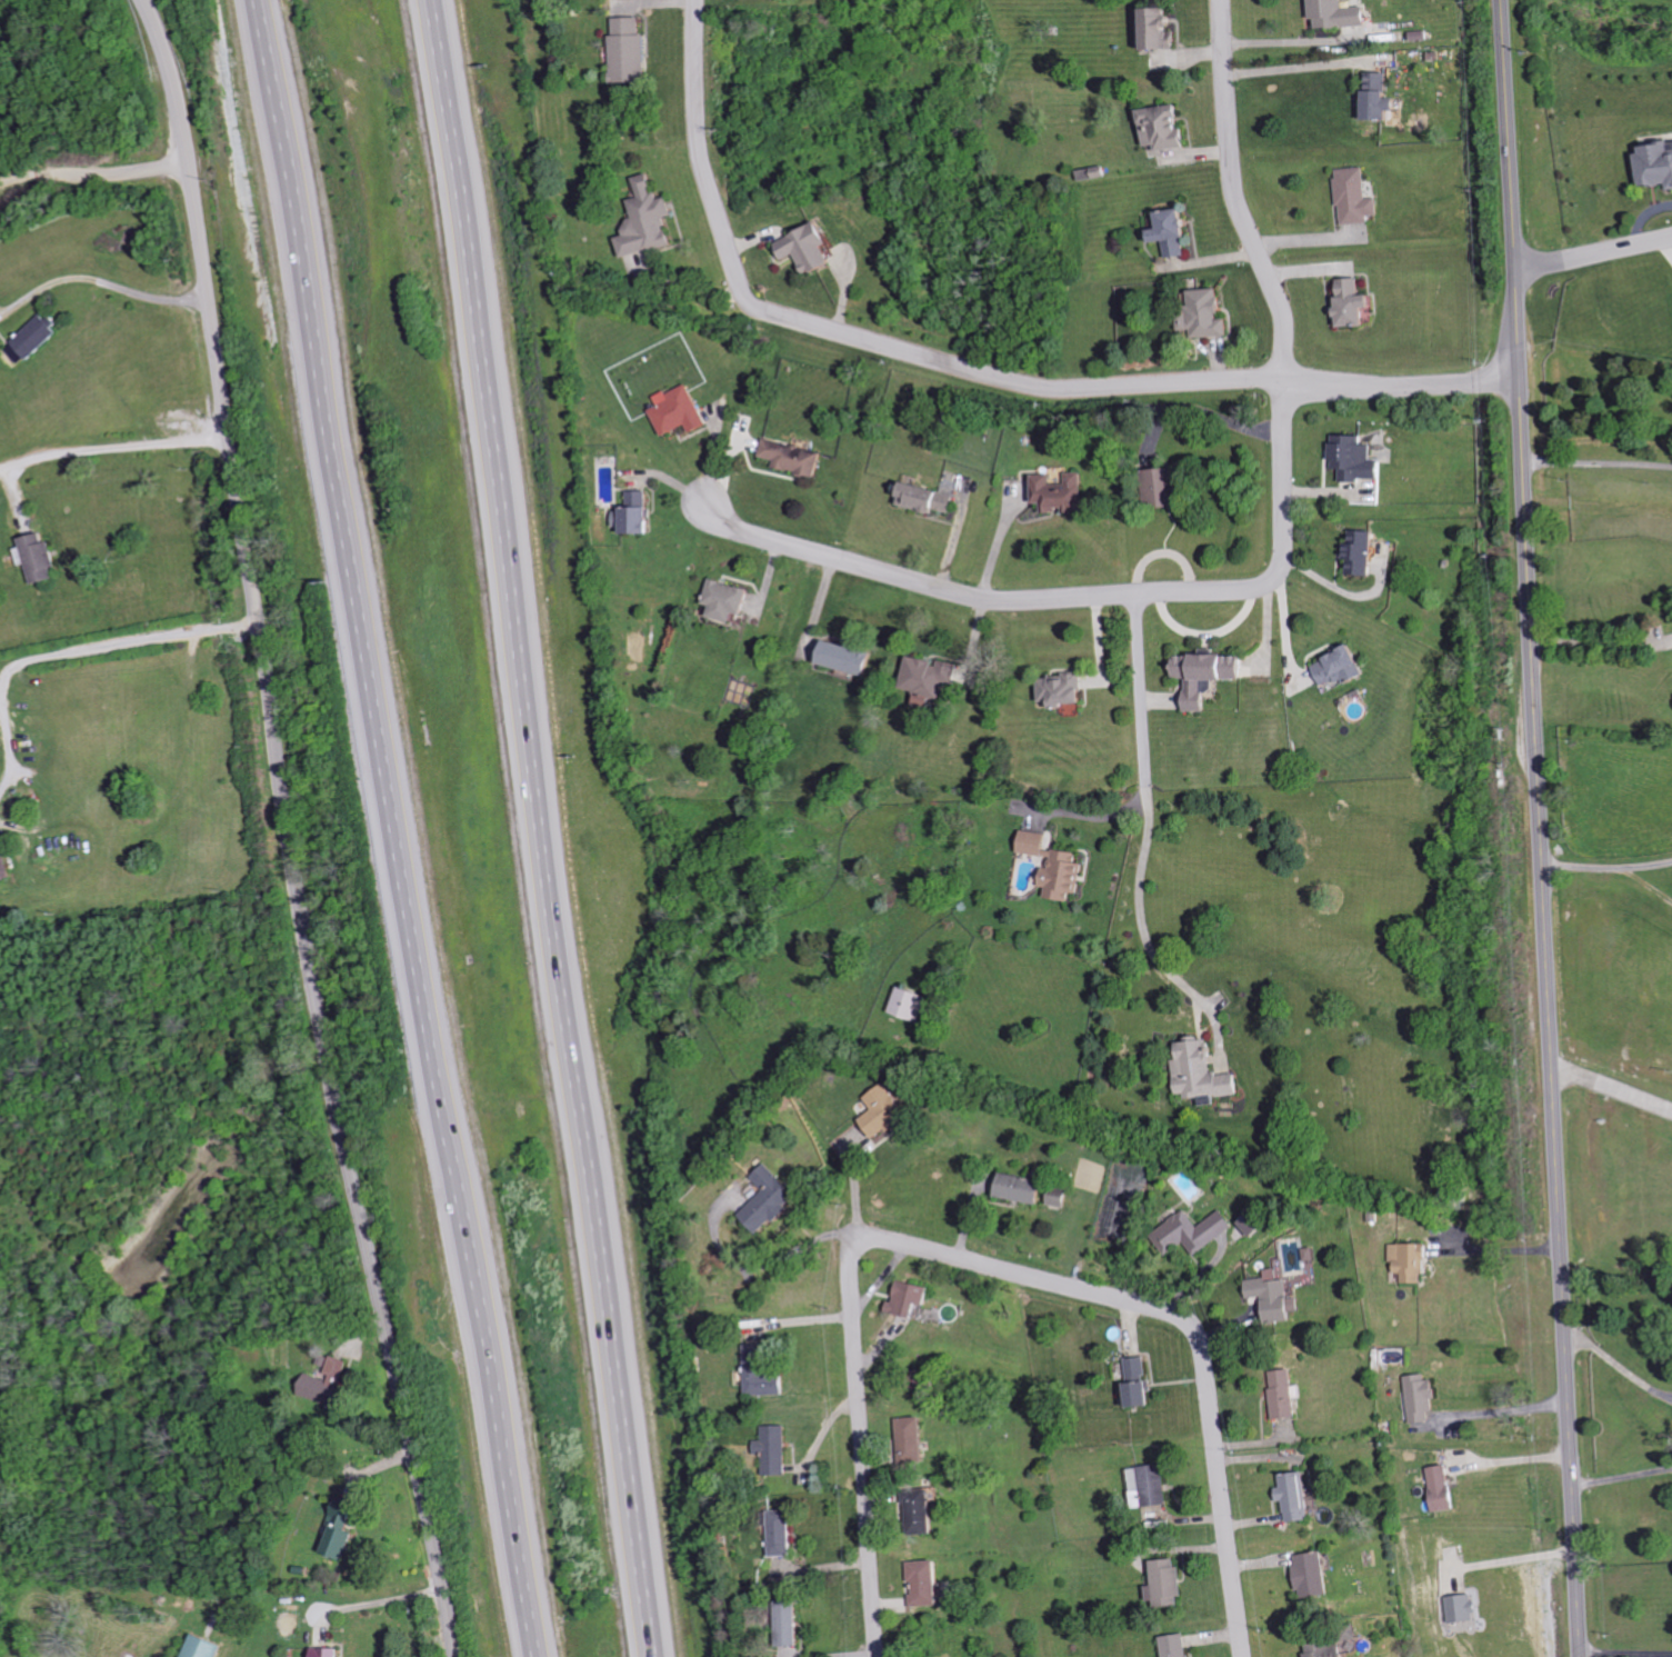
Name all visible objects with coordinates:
building: (1340, 14)
building: (1165, 29)
road: (159, 31)
road: (1295, 39)
building: (631, 50)
road: (1299, 66)
building: (1384, 99)
building: (1169, 127)
building: (1659, 164)
road: (114, 173)
road: (18, 176)
road: (1235, 192)
building: (1359, 197)
building: (650, 220)
building: (1178, 232)
road: (1666, 243)
building: (813, 248)
road: (1593, 252)
road: (101, 274)
building: (1358, 303)
building: (1210, 315)
building: (32, 342)
road: (972, 369)
building: (683, 411)
road: (1208, 413)
road: (112, 445)
building: (798, 457)
building: (1360, 459)
road: (1598, 462)
building: (1165, 488)
building: (1062, 493)
building: (929, 499)
building: (639, 515)
building: (1365, 553)
building: (42, 556)
road: (1080, 598)
building: (731, 600)
road: (124, 642)
road: (1601, 645)
building: (850, 658)
building: (1344, 668)
building: (1211, 676)
building: (930, 678)
building: (1065, 690)
road: (1142, 698)
road: (6, 752)
road: (1090, 818)
road: (396, 828)
road: (543, 828)
road: (1540, 828)
building: (4, 859)
road: (1648, 861)
road: (292, 864)
building: (1059, 865)
road: (1582, 865)
road: (1648, 881)
road: (1141, 910)
building: (912, 1002)
building: (1207, 1074)
road: (1612, 1085)
building: (888, 1110)
building: (1024, 1188)
building: (1061, 1197)
building: (770, 1198)
building: (1256, 1224)
building: (1194, 1231)
road: (1504, 1248)
building: (1414, 1260)
road: (987, 1261)
building: (1276, 1295)
building: (915, 1298)
building: (765, 1372)
road: (1619, 1376)
building: (331, 1381)
building: (1141, 1383)
building: (1288, 1393)
building: (1424, 1396)
road: (1506, 1409)
building: (919, 1439)
building: (778, 1449)
building: (1152, 1485)
road: (1622, 1485)
building: (1448, 1488)
building: (1300, 1496)
building: (925, 1511)
building: (343, 1530)
building: (785, 1533)
building: (1315, 1574)
building: (930, 1581)
building: (1168, 1583)
road: (380, 1600)
building: (1464, 1608)
building: (794, 1623)
building: (1179, 1646)
building: (206, 1647)
building: (1331, 1649)
road: (1625, 1650)
building: (329, 1651)

